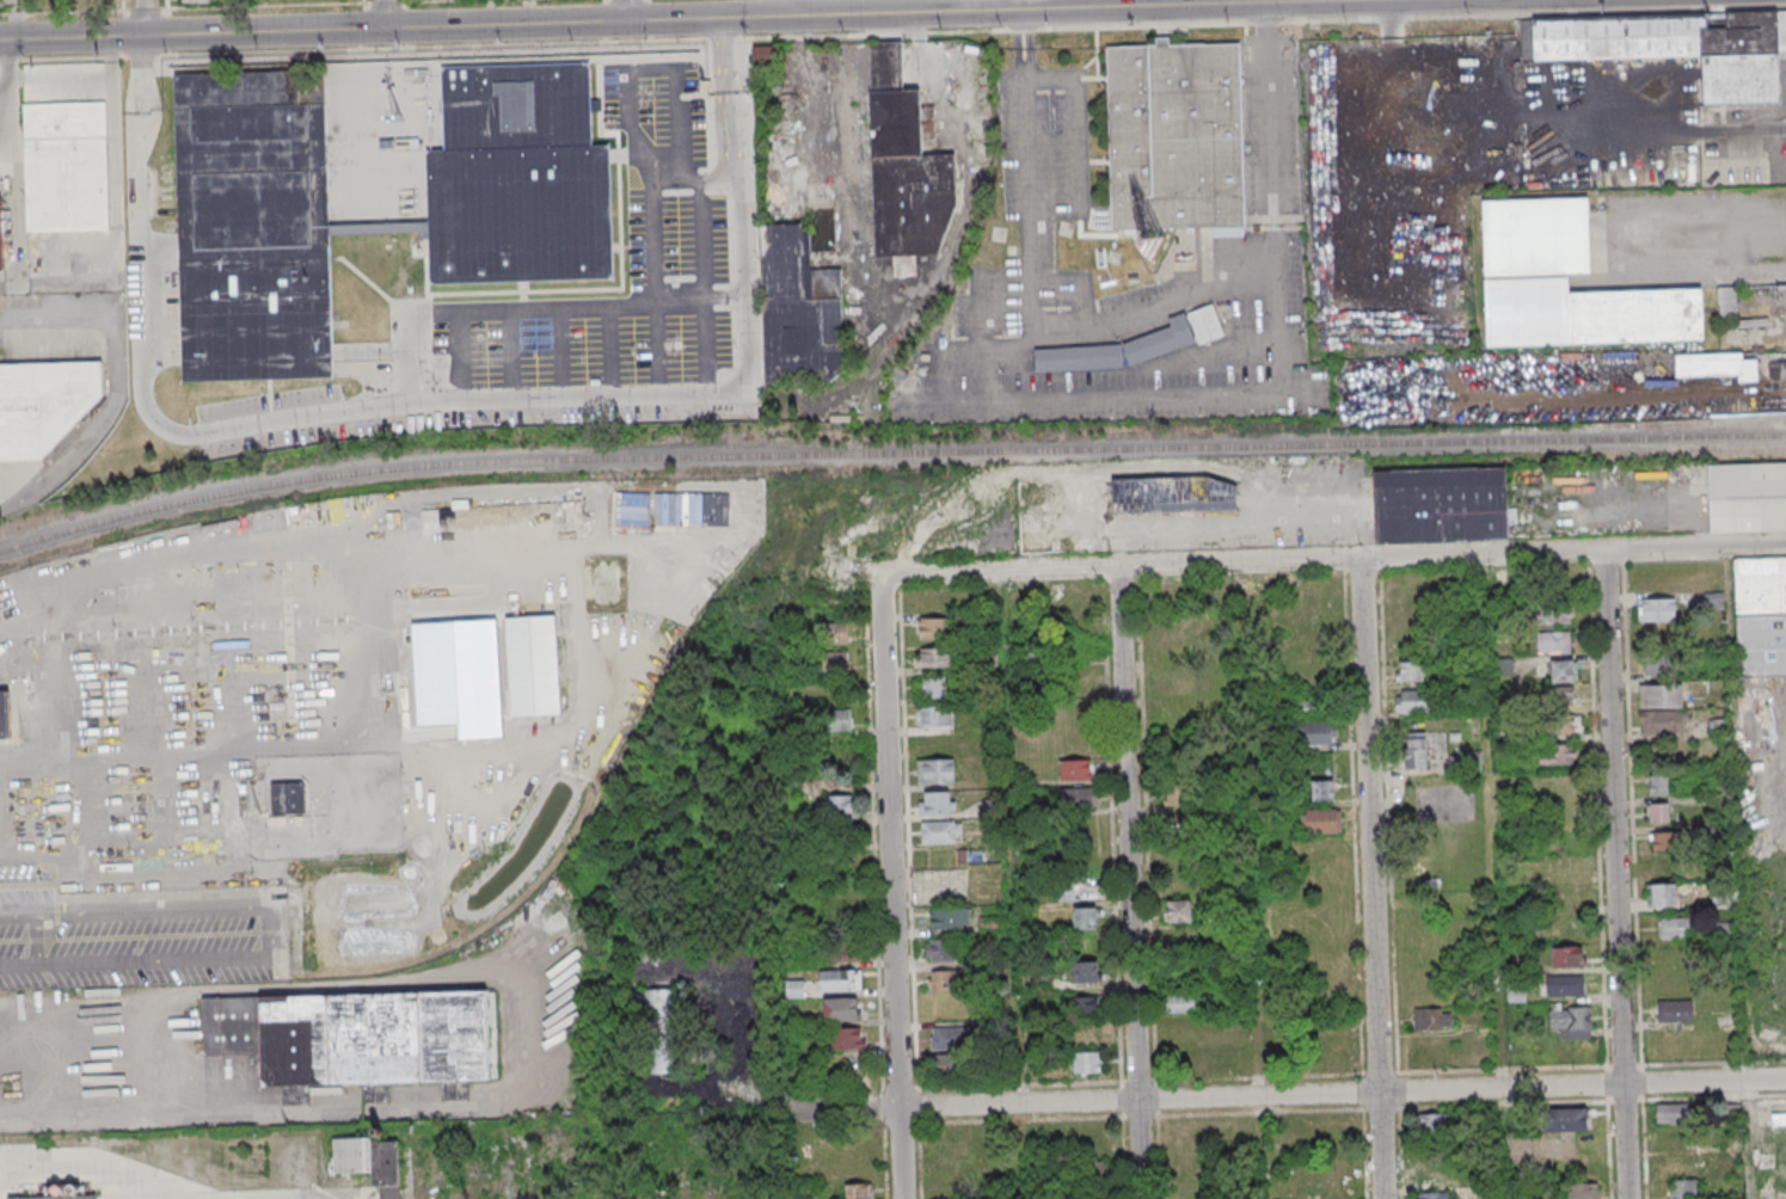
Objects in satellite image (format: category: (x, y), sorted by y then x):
building: (196, 0)
road: (1228, 1)
road: (625, 11)
road: (383, 14)
road: (142, 18)
road: (679, 18)
building: (1676, 50)
road: (8, 91)
road: (1748, 127)
building: (1179, 140)
road: (8, 141)
building: (909, 167)
building: (69, 168)
road: (18, 171)
road: (650, 197)
building: (1, 208)
building: (395, 222)
building: (1540, 240)
road: (1704, 273)
building: (1782, 299)
road: (527, 306)
building: (1730, 307)
building: (803, 314)
building: (1591, 316)
road: (1123, 318)
building: (1209, 326)
road: (983, 344)
building: (1164, 344)
building: (1081, 362)
building: (1776, 370)
road: (113, 383)
road: (1776, 383)
road: (1152, 395)
road: (432, 405)
building: (45, 407)
railway: (888, 451)
building: (1177, 499)
building: (1749, 499)
building: (1443, 508)
building: (272, 521)
road: (1346, 560)
building: (1717, 601)
building: (1656, 609)
building: (1553, 613)
building: (1761, 616)
building: (934, 628)
building: (831, 633)
building: (1554, 641)
building: (934, 658)
building: (834, 663)
building: (1659, 663)
building: (1503, 666)
building: (533, 670)
building: (1561, 670)
building: (1411, 671)
building: (934, 687)
building: (1560, 694)
building: (1317, 701)
building: (1412, 701)
building: (1662, 708)
building: (1184, 713)
building: (934, 717)
building: (6, 719)
building: (836, 721)
building: (1566, 724)
building: (1317, 732)
building: (76, 736)
building: (1416, 750)
building: (1558, 756)
building: (935, 770)
building: (1075, 770)
road: (106, 771)
building: (1658, 783)
building: (1322, 789)
building: (1079, 797)
building: (291, 799)
building: (935, 803)
building: (1185, 805)
building: (840, 807)
building: (1658, 812)
building: (1320, 820)
building: (941, 832)
building: (1667, 841)
road: (1614, 874)
road: (1498, 877)
road: (1369, 879)
road: (892, 880)
road: (1256, 881)
road: (1129, 883)
road: (1015, 885)
building: (1066, 893)
building: (1661, 894)
building: (1179, 912)
building: (1085, 918)
building: (949, 920)
building: (1675, 927)
building: (940, 951)
building: (1566, 955)
building: (1084, 972)
building: (840, 979)
building: (945, 982)
building: (1565, 984)
building: (794, 988)
building: (1182, 1003)
building: (1081, 1006)
building: (841, 1009)
building: (1675, 1012)
building: (662, 1013)
building: (1432, 1019)
building: (1571, 1020)
building: (950, 1038)
building: (847, 1039)
building: (363, 1040)
building: (662, 1059)
building: (1087, 1062)
building: (949, 1064)
road: (1285, 1095)
building: (1673, 1113)
building: (1567, 1119)
building: (1431, 1124)
building: (369, 1161)
building: (1683, 1164)
road: (110, 1172)
building: (1684, 1188)
building: (858, 1191)
building: (1579, 1191)
building: (1431, 1195)
building: (1486, 1195)
building: (32, 1197)
building: (85, 1197)

